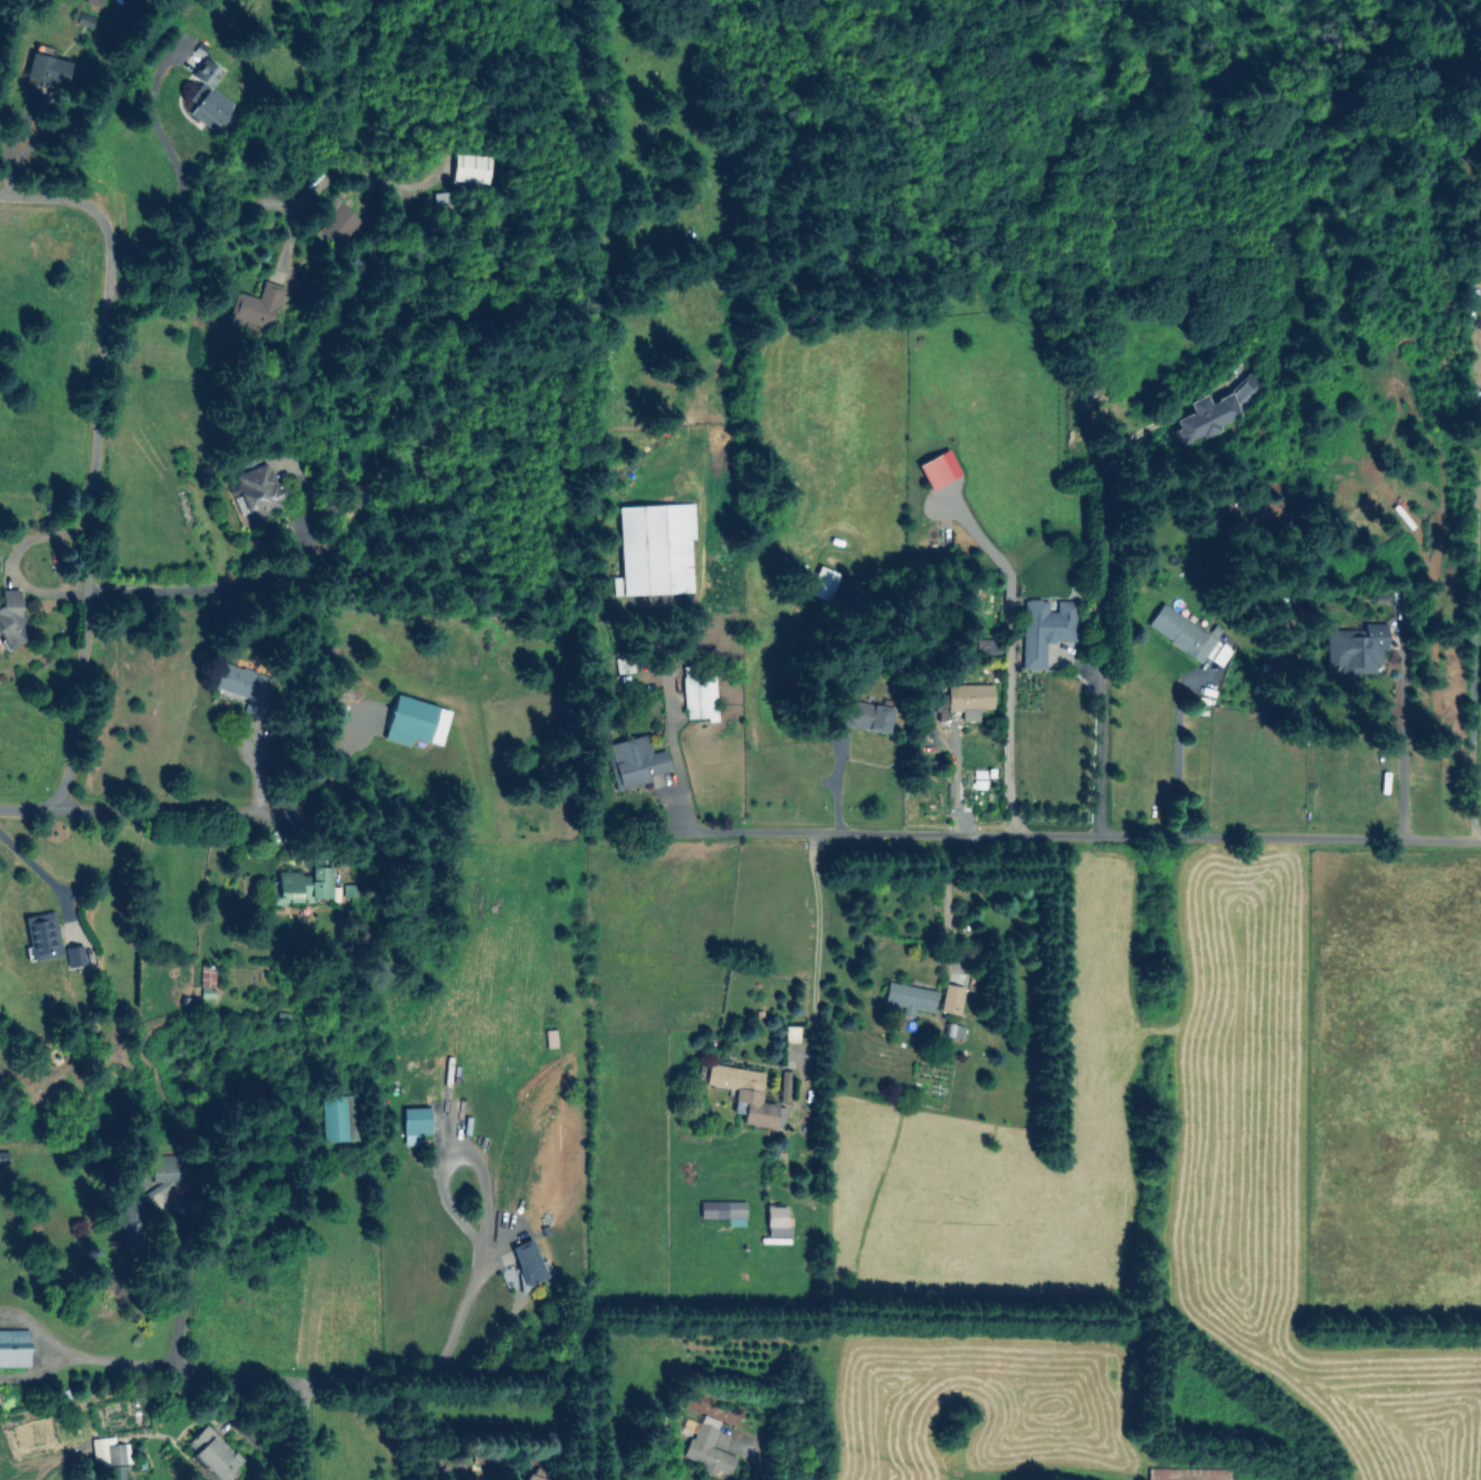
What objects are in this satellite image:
building: (93, 2)
building: (47, 69)
building: (208, 96)
road: (175, 167)
road: (35, 197)
building: (335, 221)
building: (256, 305)
building: (1216, 408)
building: (938, 469)
building: (257, 488)
road: (90, 495)
building: (654, 548)
road: (10, 563)
building: (822, 583)
road: (177, 591)
building: (12, 619)
building: (1045, 628)
building: (1189, 635)
building: (985, 646)
building: (1354, 649)
road: (1474, 653)
road: (1009, 682)
building: (243, 686)
building: (698, 694)
building: (968, 699)
building: (862, 714)
building: (415, 721)
road: (1098, 742)
road: (1400, 744)
road: (1176, 759)
building: (633, 761)
road: (675, 762)
road: (329, 802)
road: (130, 810)
road: (1095, 836)
road: (36, 867)
building: (302, 885)
building: (348, 891)
road: (951, 902)
building: (42, 935)
road: (816, 940)
building: (74, 955)
building: (909, 997)
building: (951, 998)
building: (953, 1030)
building: (784, 1086)
building: (746, 1094)
building: (339, 1117)
building: (414, 1124)
building: (3, 1157)
building: (169, 1167)
building: (724, 1211)
building: (130, 1218)
building: (776, 1221)
building: (527, 1261)
road: (178, 1283)
road: (455, 1323)
building: (14, 1347)
road: (107, 1359)
road: (289, 1380)
road: (307, 1431)
building: (708, 1448)
building: (212, 1452)
building: (115, 1472)
building: (1189, 1473)
building: (531, 1477)

